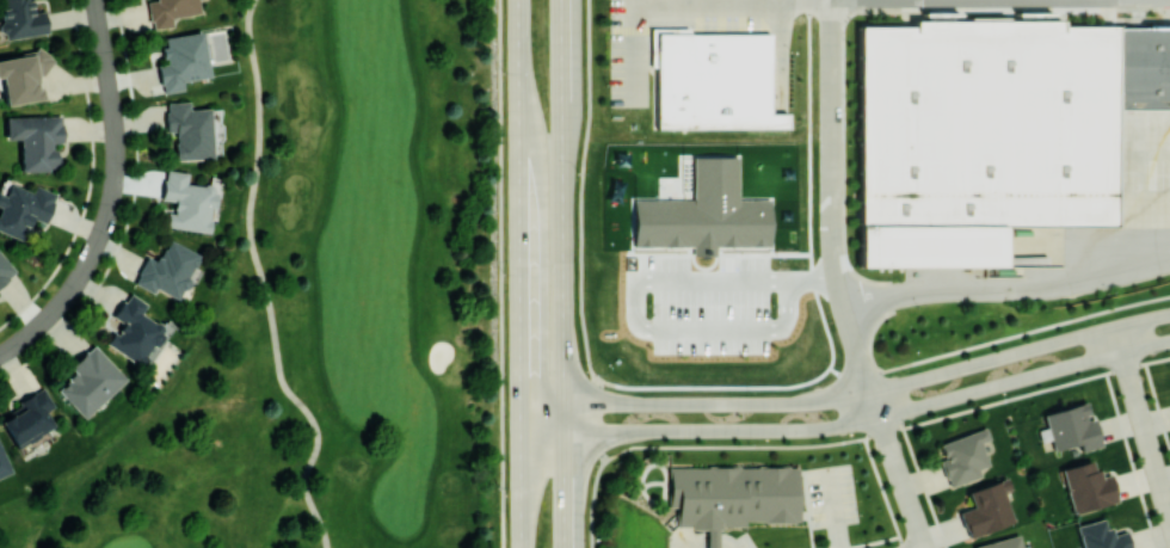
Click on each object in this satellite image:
road: (788, 1)
road: (809, 1)
road: (708, 4)
building: (168, 11)
building: (21, 18)
road: (632, 53)
building: (183, 60)
building: (1144, 67)
road: (831, 72)
building: (24, 76)
building: (712, 79)
building: (189, 129)
building: (984, 134)
building: (36, 138)
road: (111, 196)
building: (187, 201)
building: (23, 208)
building: (703, 213)
road: (831, 258)
building: (5, 269)
building: (167, 269)
road: (498, 273)
road: (519, 273)
road: (562, 273)
road: (1003, 276)
road: (579, 279)
road: (264, 282)
road: (638, 304)
park: (332, 308)
building: (134, 330)
road: (1016, 332)
road: (1023, 377)
road: (866, 380)
building: (90, 381)
road: (850, 395)
road: (878, 413)
building: (29, 417)
road: (1141, 420)
road: (887, 423)
building: (1071, 427)
road: (721, 430)
road: (542, 431)
building: (963, 456)
building: (2, 464)
road: (924, 486)
building: (1088, 486)
road: (905, 491)
road: (882, 492)
building: (732, 494)
parking lot: (831, 494)
road: (806, 506)
road: (833, 507)
building: (987, 507)
park: (595, 515)
building: (1101, 535)
road: (729, 537)
road: (683, 541)
road: (707, 541)
road: (860, 542)
building: (1002, 542)
parking lot: (737, 543)

